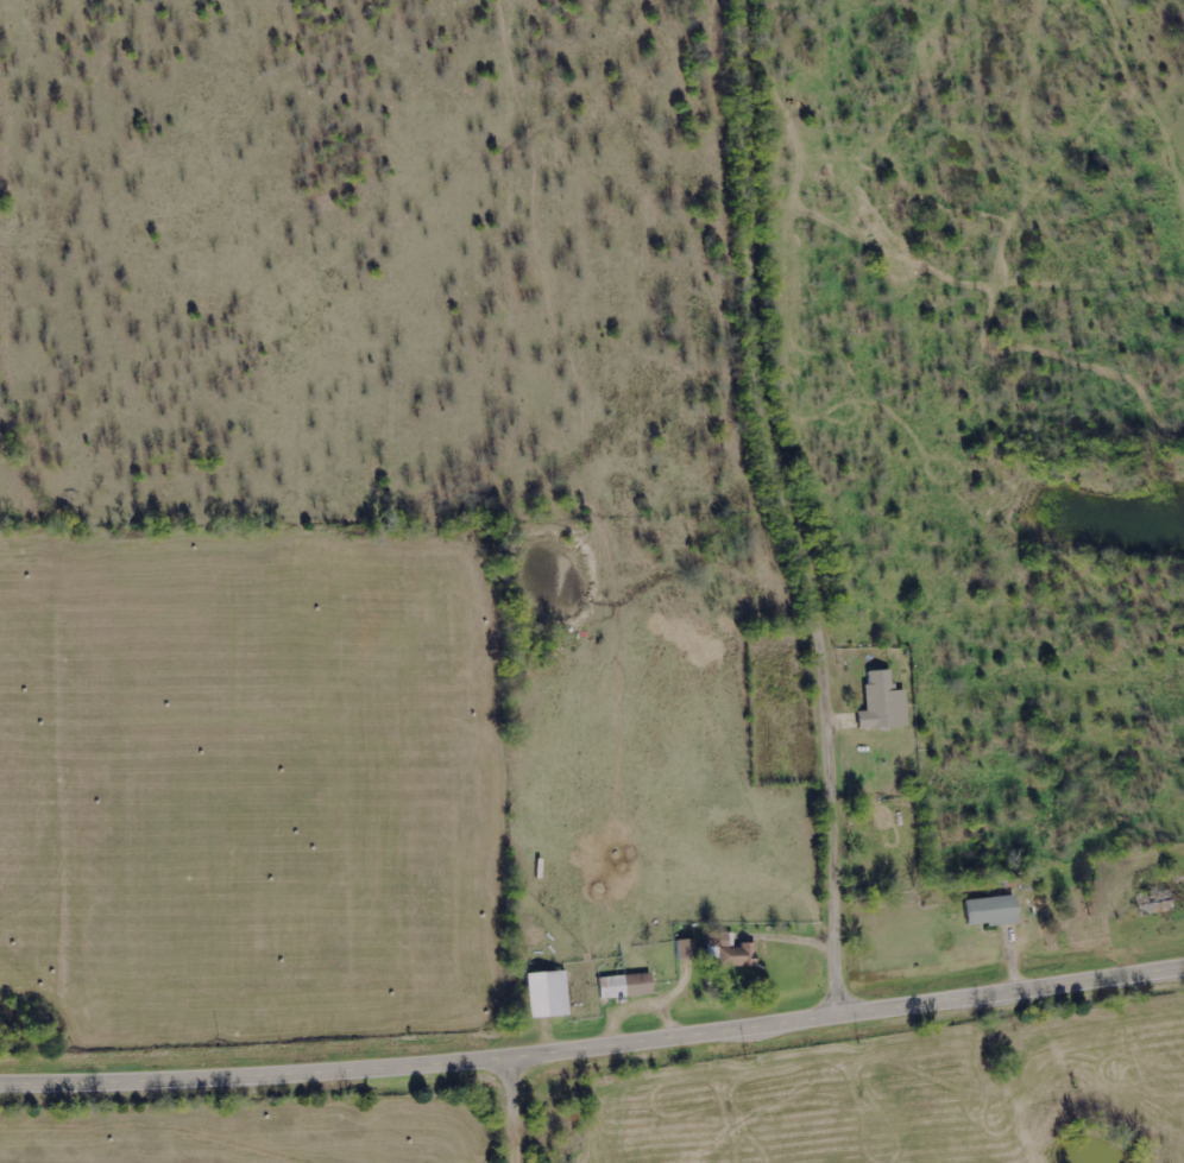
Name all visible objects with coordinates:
road: (791, 510)
building: (884, 702)
building: (993, 910)
building: (688, 949)
building: (732, 952)
building: (626, 985)
building: (549, 994)
road: (593, 1050)
road: (512, 1112)

